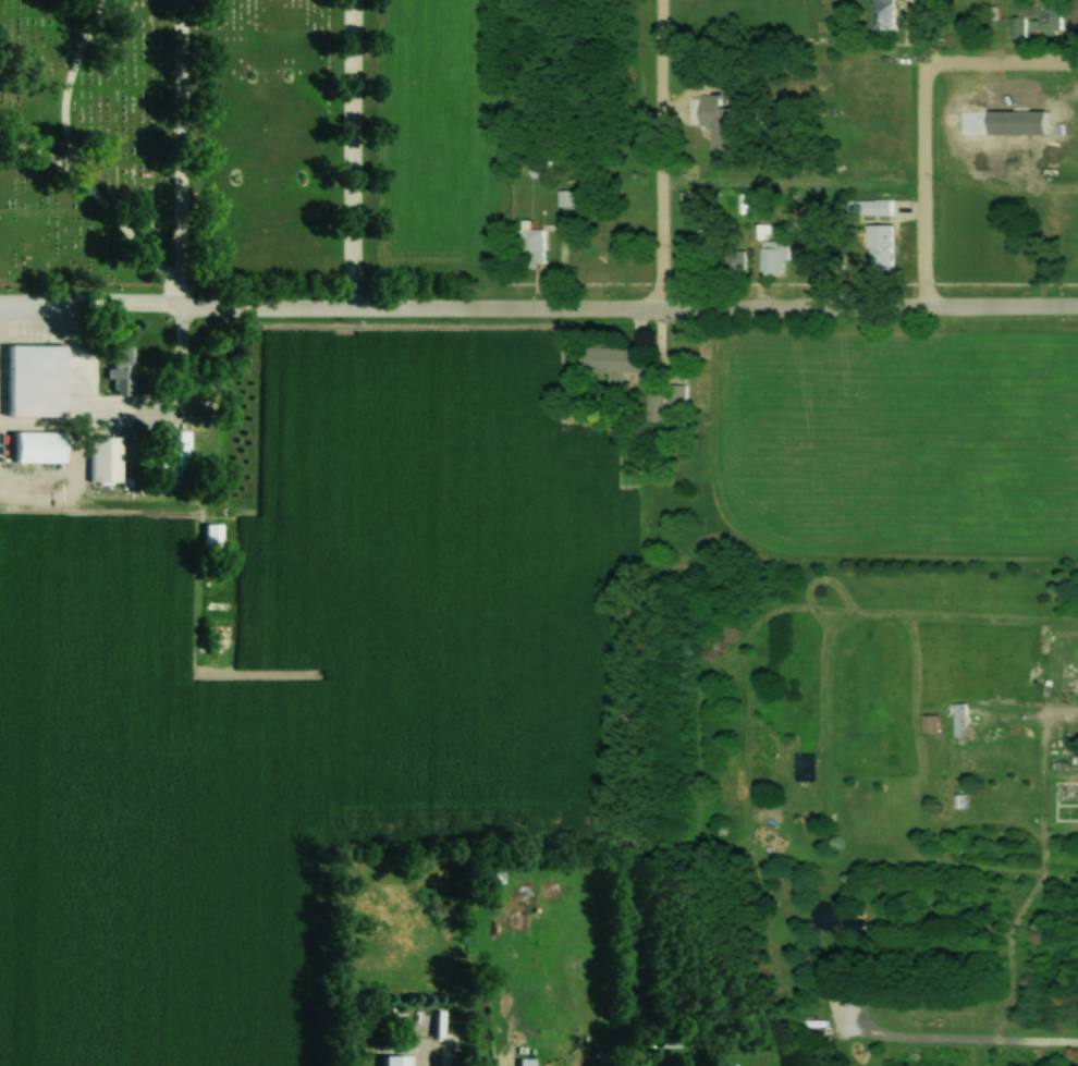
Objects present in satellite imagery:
building: (1046, 16)
building: (883, 17)
building: (1015, 27)
road: (996, 66)
road: (65, 86)
park: (247, 150)
road: (174, 155)
road: (351, 155)
road: (650, 156)
road: (915, 156)
building: (540, 166)
building: (567, 200)
road: (100, 212)
building: (703, 241)
building: (535, 246)
building: (879, 247)
building: (809, 253)
building: (772, 258)
road: (87, 309)
road: (625, 310)
building: (617, 360)
building: (122, 370)
building: (34, 381)
road: (87, 419)
building: (36, 448)
building: (131, 448)
building: (173, 453)
building: (103, 460)
building: (207, 535)
building: (958, 720)
building: (928, 723)
building: (832, 918)
building: (667, 1043)
building: (385, 1062)

